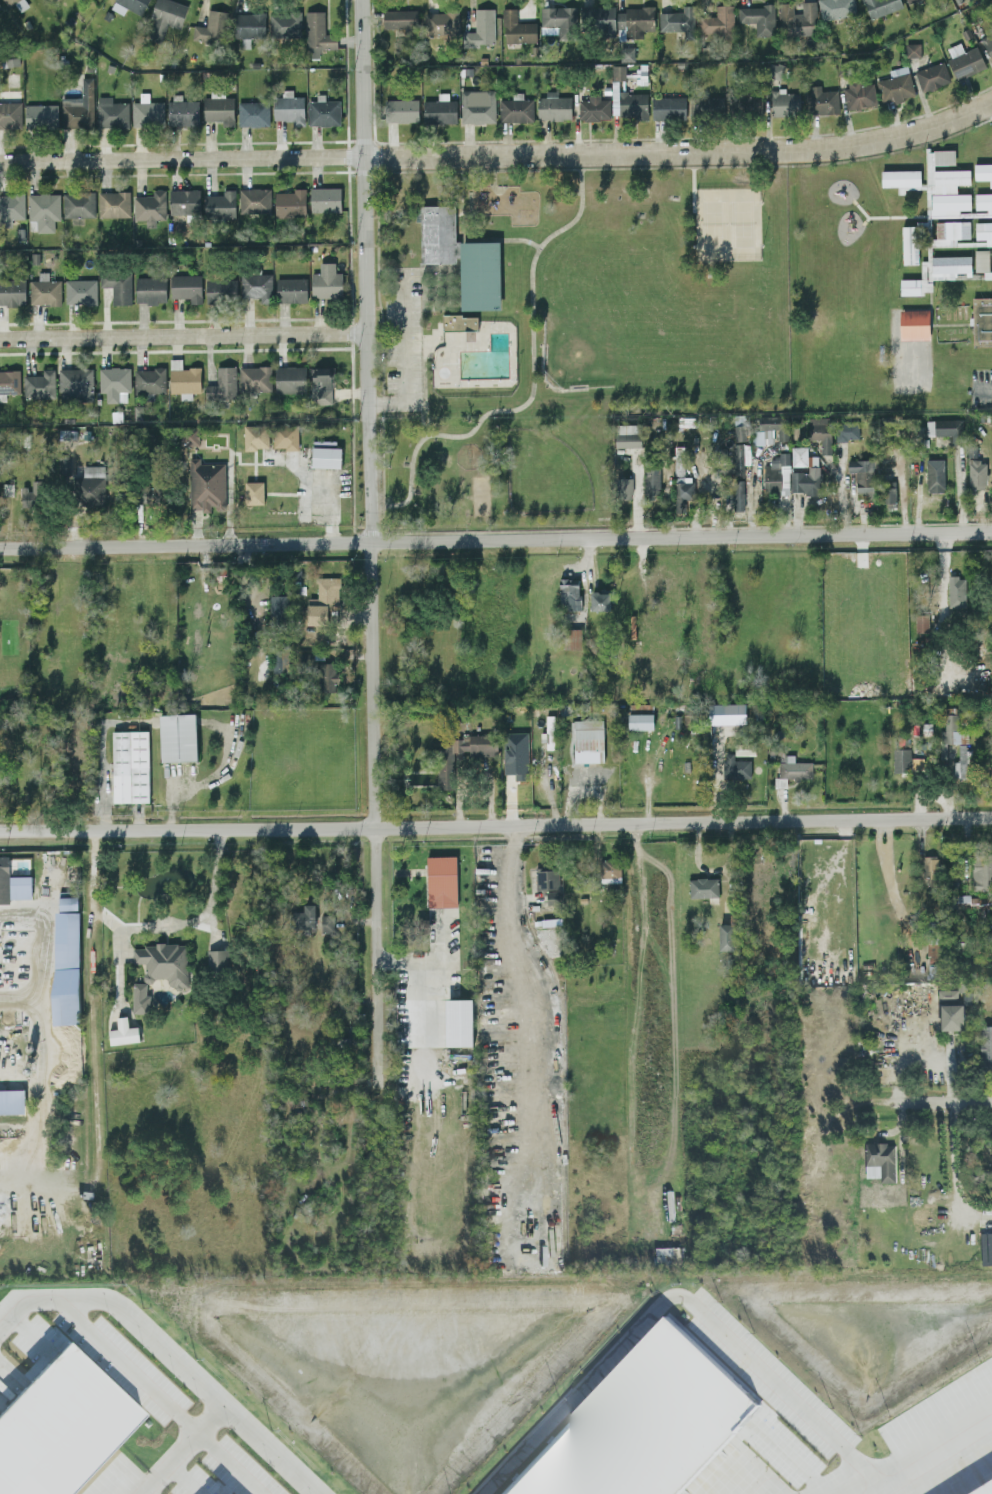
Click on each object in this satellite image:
building: (908, 0)
building: (16, 3)
building: (129, 5)
building: (880, 6)
building: (0, 7)
building: (836, 8)
building: (166, 16)
building: (757, 17)
building: (399, 18)
building: (799, 18)
building: (559, 19)
building: (600, 19)
building: (635, 20)
building: (678, 20)
building: (718, 21)
building: (285, 22)
building: (440, 22)
building: (249, 24)
building: (212, 26)
building: (517, 27)
building: (481, 28)
building: (317, 33)
building: (988, 44)
building: (912, 49)
building: (625, 52)
building: (964, 60)
building: (617, 72)
building: (932, 75)
building: (896, 84)
building: (859, 93)
building: (824, 99)
building: (627, 101)
building: (784, 102)
road: (991, 103)
building: (78, 106)
building: (477, 106)
building: (553, 106)
building: (707, 106)
building: (288, 107)
building: (593, 107)
building: (668, 107)
building: (218, 108)
building: (515, 108)
building: (401, 109)
building: (439, 109)
building: (182, 110)
building: (323, 110)
building: (111, 112)
building: (147, 113)
building: (253, 113)
building: (10, 114)
building: (41, 115)
road: (499, 154)
road: (681, 165)
building: (983, 171)
building: (928, 174)
road: (493, 177)
road: (693, 188)
building: (254, 199)
building: (325, 199)
building: (184, 200)
building: (289, 202)
building: (78, 203)
building: (113, 203)
building: (220, 203)
building: (948, 203)
building: (150, 206)
building: (11, 207)
road: (469, 208)
building: (43, 209)
park: (727, 224)
building: (949, 231)
building: (983, 231)
building: (438, 234)
road: (464, 240)
building: (910, 243)
building: (983, 262)
road: (393, 268)
building: (935, 272)
building: (480, 274)
building: (326, 281)
building: (117, 285)
building: (256, 285)
building: (186, 286)
building: (150, 289)
building: (220, 289)
building: (291, 289)
building: (44, 290)
building: (80, 290)
building: (12, 291)
building: (982, 320)
building: (459, 321)
building: (914, 323)
park: (567, 326)
parking lot: (404, 333)
road: (183, 336)
road: (406, 356)
building: (255, 377)
building: (183, 378)
building: (290, 378)
building: (149, 380)
building: (10, 381)
building: (114, 382)
building: (75, 383)
building: (222, 383)
building: (39, 384)
building: (321, 384)
road: (531, 385)
road: (423, 386)
road: (982, 390)
building: (945, 428)
building: (848, 429)
building: (820, 431)
building: (739, 432)
building: (190, 435)
building: (256, 436)
building: (285, 436)
building: (627, 439)
building: (325, 454)
building: (799, 455)
building: (740, 457)
park: (544, 472)
building: (776, 473)
building: (976, 473)
building: (681, 475)
building: (934, 475)
building: (862, 476)
building: (652, 479)
building: (806, 481)
building: (91, 485)
building: (206, 485)
building: (623, 487)
building: (746, 489)
building: (888, 491)
building: (253, 492)
building: (33, 494)
building: (139, 494)
road: (326, 494)
building: (738, 494)
building: (679, 505)
road: (495, 538)
building: (569, 593)
building: (956, 594)
road: (254, 597)
building: (322, 600)
building: (600, 600)
building: (278, 606)
building: (921, 622)
road: (371, 636)
building: (572, 638)
building: (280, 661)
building: (326, 676)
building: (726, 713)
building: (639, 716)
building: (952, 729)
building: (548, 731)
building: (178, 737)
building: (587, 739)
building: (462, 752)
building: (904, 760)
building: (961, 762)
building: (130, 766)
building: (736, 767)
building: (792, 769)
road: (496, 822)
building: (929, 869)
building: (982, 870)
building: (547, 878)
building: (441, 880)
building: (12, 883)
building: (703, 886)
road: (512, 888)
road: (210, 893)
building: (553, 896)
building: (68, 903)
building: (307, 915)
building: (327, 923)
building: (805, 925)
building: (725, 936)
road: (440, 939)
building: (218, 960)
road: (440, 960)
building: (163, 962)
building: (66, 967)
building: (948, 997)
building: (140, 998)
road: (35, 1000)
building: (954, 1019)
building: (458, 1021)
building: (123, 1032)
building: (986, 1048)
building: (12, 1100)
road: (926, 1103)
building: (882, 1163)
building: (987, 1250)
building: (663, 1256)
road: (172, 1354)
road: (132, 1366)
building: (645, 1424)
building: (66, 1435)
road: (182, 1449)
road: (926, 1452)
road: (230, 1463)
building: (987, 1491)

